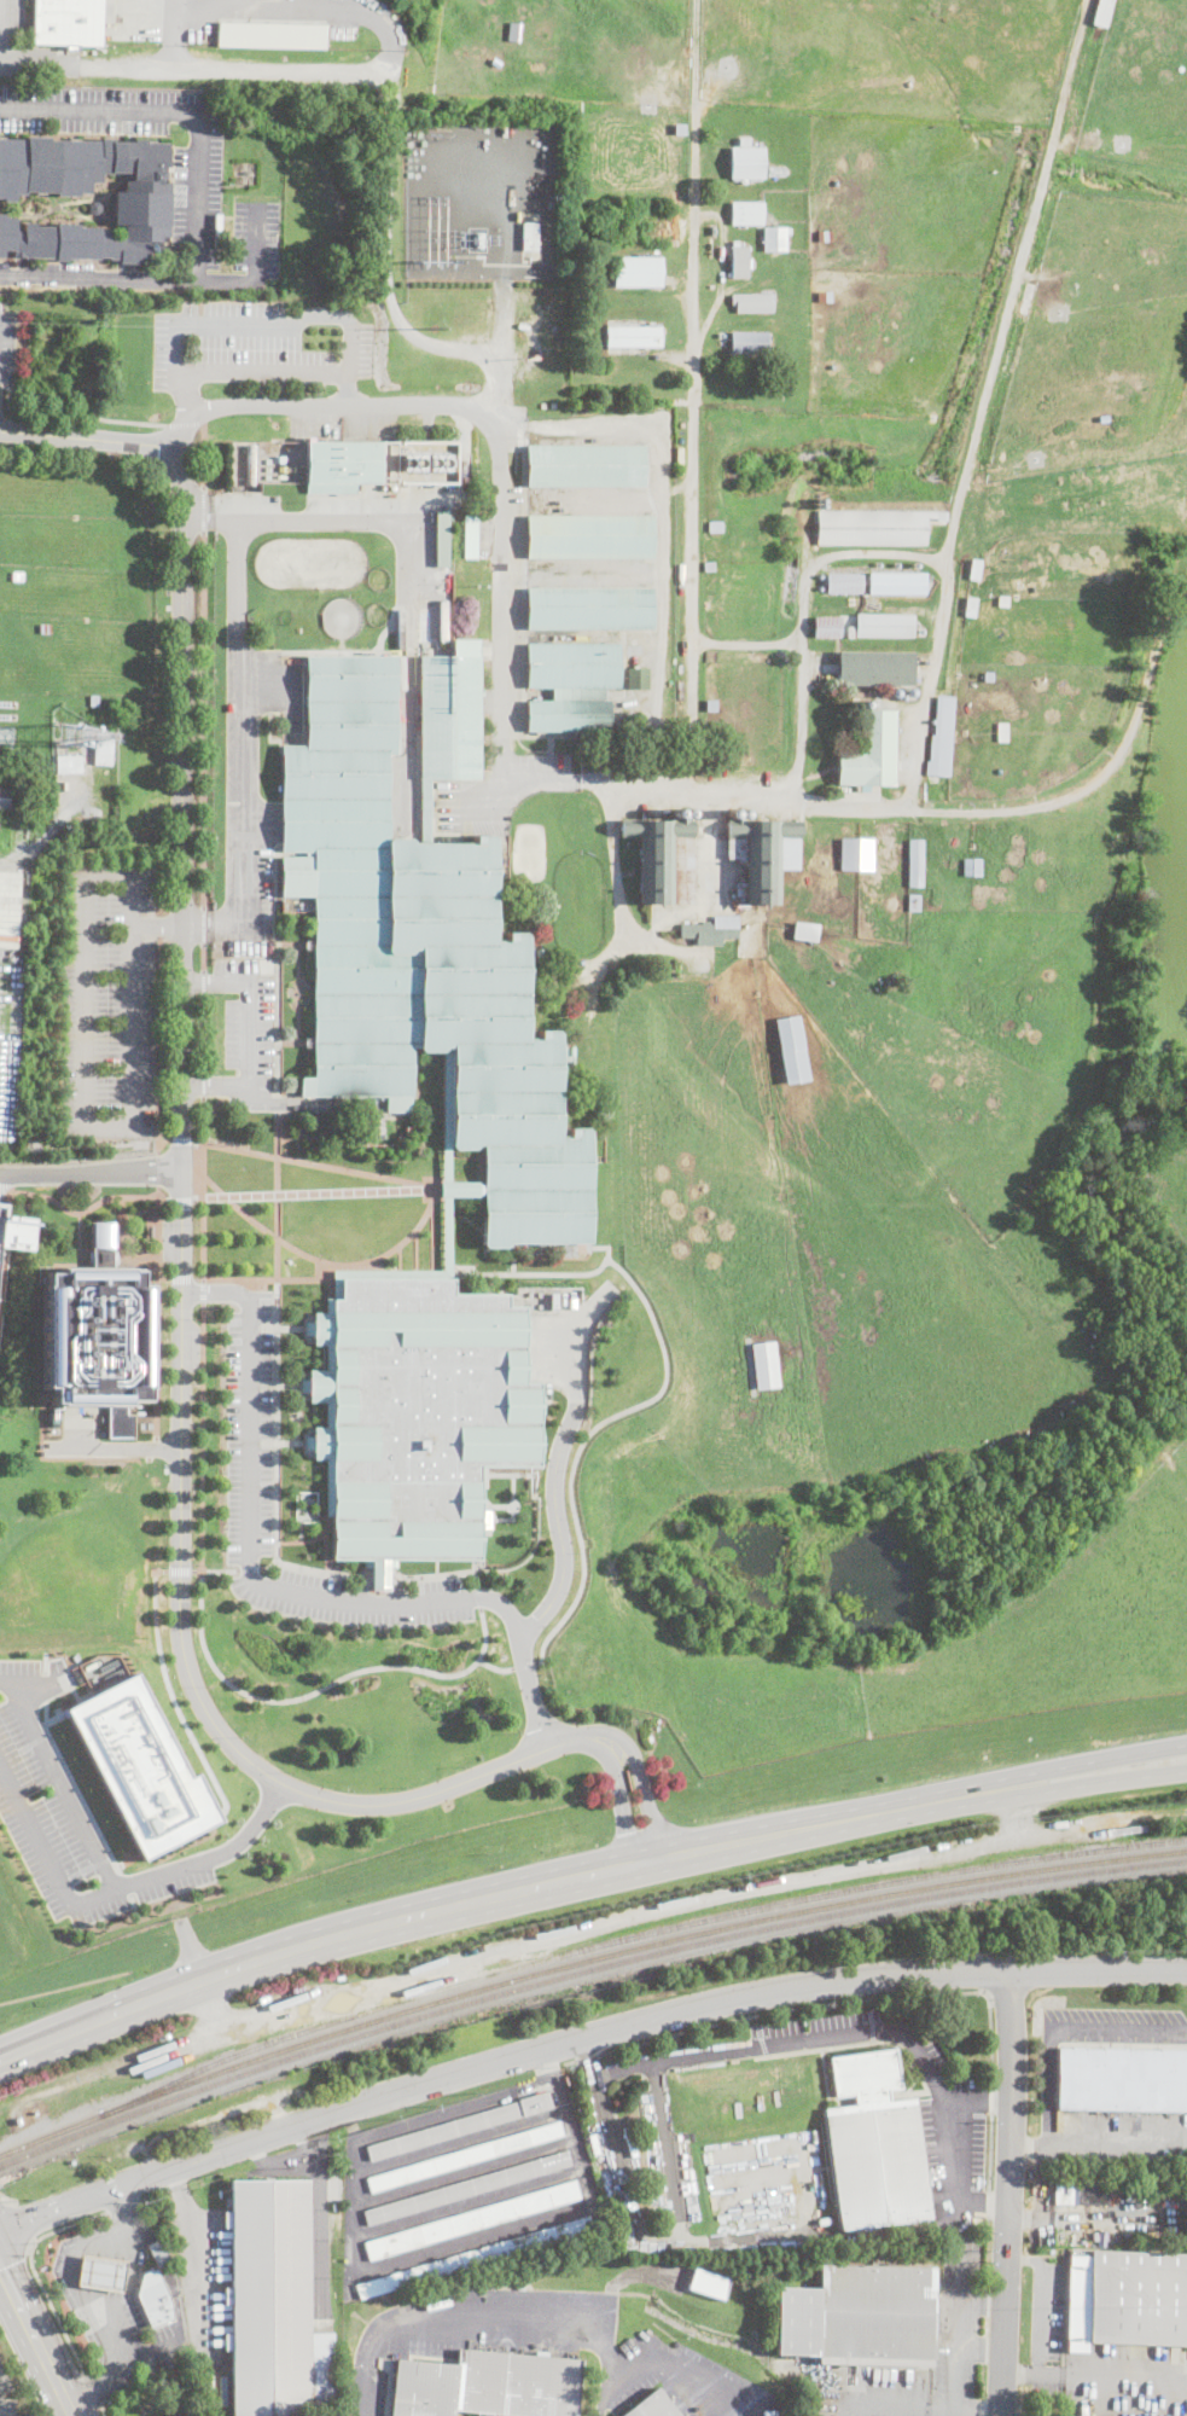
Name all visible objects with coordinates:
road: (180, 2)
road: (277, 7)
building: (1101, 12)
building: (66, 23)
road: (2, 34)
building: (270, 34)
building: (682, 77)
building: (706, 77)
road: (389, 82)
building: (680, 128)
building: (744, 141)
road: (200, 159)
building: (746, 163)
building: (776, 169)
building: (141, 199)
power substation: (478, 201)
building: (94, 208)
building: (746, 213)
building: (529, 234)
building: (824, 236)
building: (774, 239)
building: (738, 261)
power tower: (434, 263)
building: (638, 271)
road: (99, 275)
building: (710, 288)
building: (825, 297)
building: (1025, 298)
building: (751, 302)
power tower: (88, 319)
road: (181, 321)
building: (625, 323)
power tower: (432, 329)
building: (634, 337)
building: (749, 342)
parking lot: (256, 345)
parking lot: (7, 349)
building: (625, 349)
building: (650, 358)
building: (1119, 385)
road: (347, 390)
road: (186, 391)
road: (692, 393)
road: (85, 405)
road: (186, 424)
road: (981, 435)
road: (506, 442)
road: (204, 455)
building: (427, 463)
building: (348, 465)
building: (584, 466)
building: (1075, 505)
road: (327, 518)
building: (715, 527)
building: (873, 528)
building: (470, 535)
building: (441, 538)
building: (589, 538)
building: (709, 564)
building: (974, 569)
building: (17, 576)
building: (844, 583)
building: (897, 583)
building: (820, 588)
road: (523, 593)
building: (1002, 600)
building: (971, 606)
building: (589, 609)
road: (803, 612)
building: (884, 623)
building: (827, 626)
building: (45, 628)
building: (850, 631)
road: (745, 643)
building: (875, 668)
building: (988, 676)
building: (636, 678)
building: (571, 686)
building: (910, 691)
building: (896, 692)
road: (204, 698)
building: (94, 701)
building: (710, 704)
building: (865, 704)
road: (238, 721)
building: (632, 722)
building: (1002, 732)
building: (6, 736)
building: (941, 737)
building: (103, 748)
building: (869, 751)
parking lot: (248, 753)
building: (68, 762)
building: (5, 798)
building: (676, 812)
road: (907, 812)
building: (687, 813)
building: (732, 813)
building: (743, 813)
building: (856, 853)
building: (657, 854)
building: (760, 855)
building: (914, 861)
building: (972, 866)
crop: (898, 870)
road: (711, 883)
building: (8, 898)
road: (618, 900)
building: (297, 902)
building: (912, 902)
building: (1128, 908)
road: (158, 923)
building: (711, 930)
building: (801, 933)
road: (204, 940)
building: (423, 942)
road: (290, 945)
building: (978, 962)
road: (277, 969)
road: (199, 982)
road: (297, 993)
parking lot: (109, 999)
road: (250, 1018)
road: (204, 1022)
parking lot: (248, 1032)
road: (291, 1041)
road: (159, 1044)
building: (792, 1049)
building: (751, 1058)
road: (215, 1087)
road: (85, 1127)
road: (174, 1140)
road: (447, 1158)
road: (315, 1165)
road: (89, 1172)
road: (203, 1175)
road: (458, 1189)
road: (310, 1192)
road: (2, 1197)
building: (0, 1208)
parking garage: (0, 1208)
road: (86, 1210)
road: (140, 1212)
road: (181, 1220)
building: (150, 1230)
building: (11, 1236)
parking garage: (11, 1236)
road: (80, 1237)
road: (138, 1244)
road: (606, 1248)
road: (129, 1258)
road: (324, 1261)
road: (448, 1271)
road: (268, 1279)
road: (219, 1293)
road: (157, 1296)
road: (290, 1326)
building: (95, 1329)
building: (764, 1365)
road: (287, 1384)
road: (652, 1398)
building: (414, 1412)
road: (277, 1429)
parking lot: (250, 1439)
road: (290, 1442)
road: (124, 1447)
road: (309, 1540)
road: (250, 1552)
road: (555, 1581)
road: (500, 1604)
road: (211, 1660)
road: (523, 1665)
road: (495, 1667)
building: (141, 1766)
road: (1048, 1771)
road: (64, 1778)
road: (1049, 1794)
road: (645, 1798)
road: (617, 1805)
road: (770, 1836)
road: (215, 1853)
road: (47, 1857)
railway: (633, 1934)
road: (308, 1946)
railway: (582, 1959)
road: (1098, 1968)
railway: (582, 1970)
road: (888, 1996)
road: (1061, 2034)
road: (587, 2055)
road: (654, 2058)
road: (495, 2062)
building: (1124, 2079)
road: (979, 2103)
building: (460, 2126)
road: (1116, 2139)
road: (956, 2143)
building: (874, 2144)
road: (1028, 2147)
building: (464, 2157)
road: (272, 2161)
road: (1046, 2182)
building: (465, 2188)
building: (1081, 2190)
road: (1008, 2193)
road: (6, 2197)
road: (984, 2205)
road: (319, 2215)
road: (1025, 2217)
road: (1081, 2217)
traffic signals: (30, 2218)
building: (472, 2220)
road: (22, 2222)
building: (599, 2222)
road: (663, 2237)
road: (475, 2238)
building: (158, 2251)
road: (196, 2258)
building: (473, 2258)
road: (35, 2271)
building: (101, 2271)
building: (708, 2283)
building: (153, 2295)
building: (1127, 2299)
building: (272, 2304)
road: (983, 2304)
road: (496, 2307)
building: (861, 2317)
road: (37, 2344)
road: (983, 2351)
road: (677, 2365)
road: (1042, 2368)
road: (1023, 2373)
road: (93, 2386)
building: (487, 2386)
building: (653, 2406)
road: (104, 2409)
road: (897, 2410)
road: (981, 2414)

